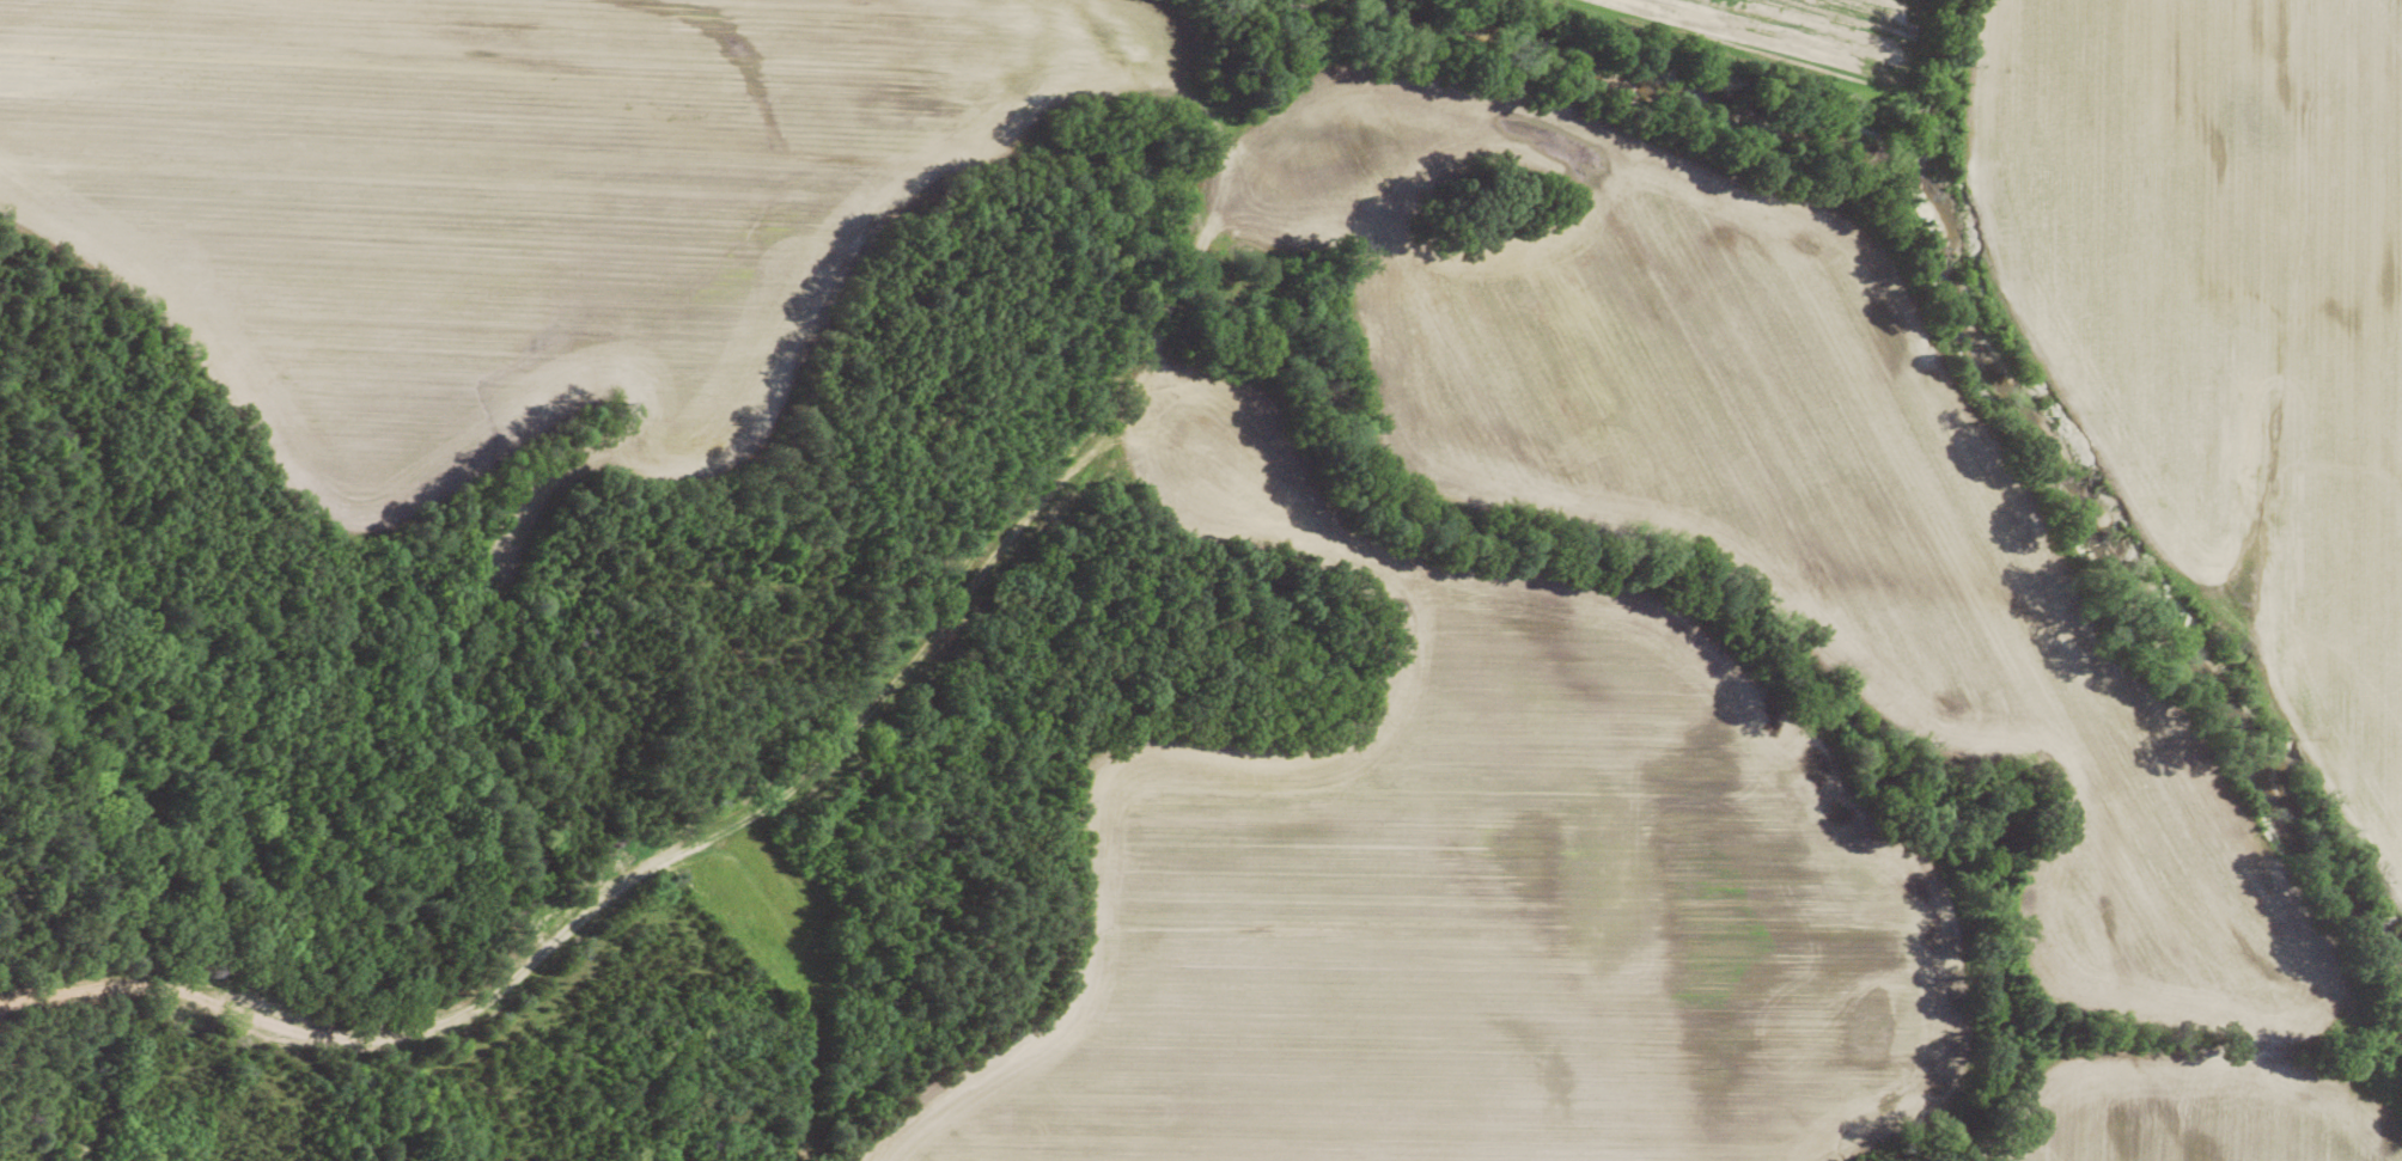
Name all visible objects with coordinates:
road: (1233, 183)
road: (666, 881)

